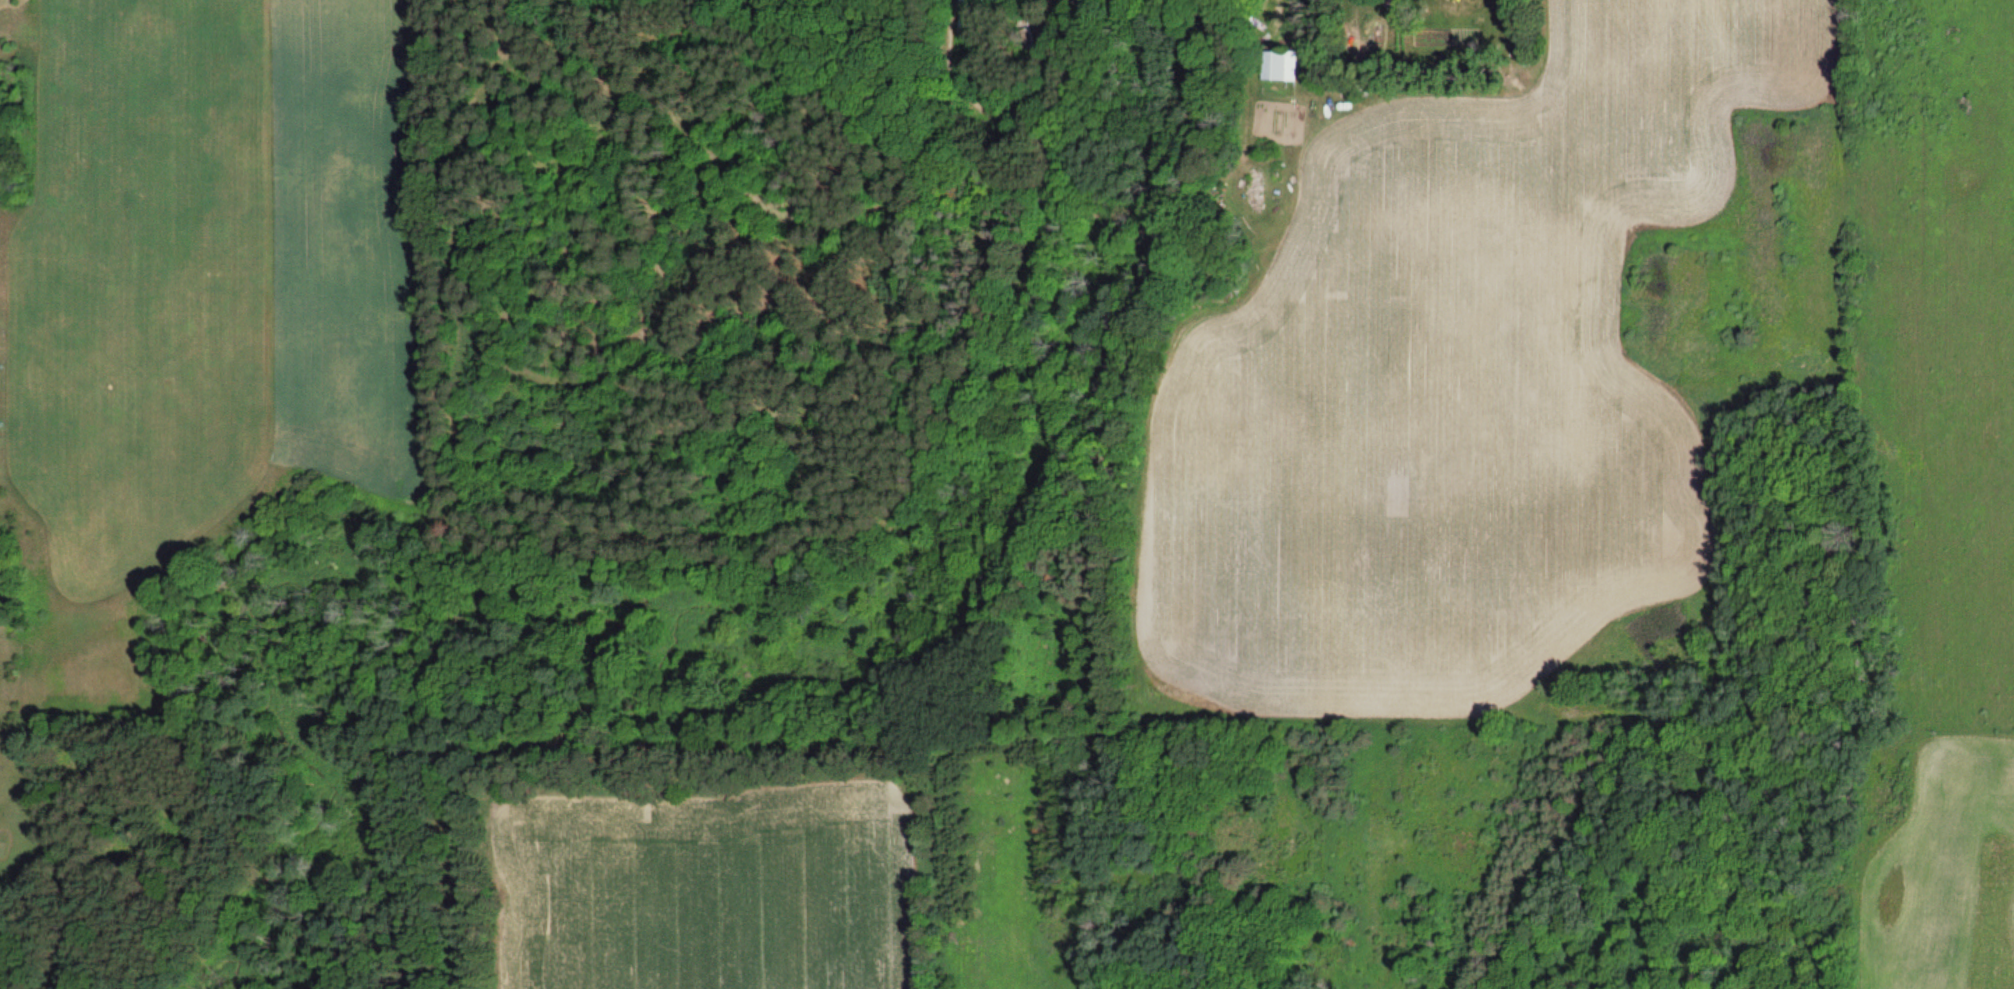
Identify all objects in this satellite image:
building: (1272, 66)

